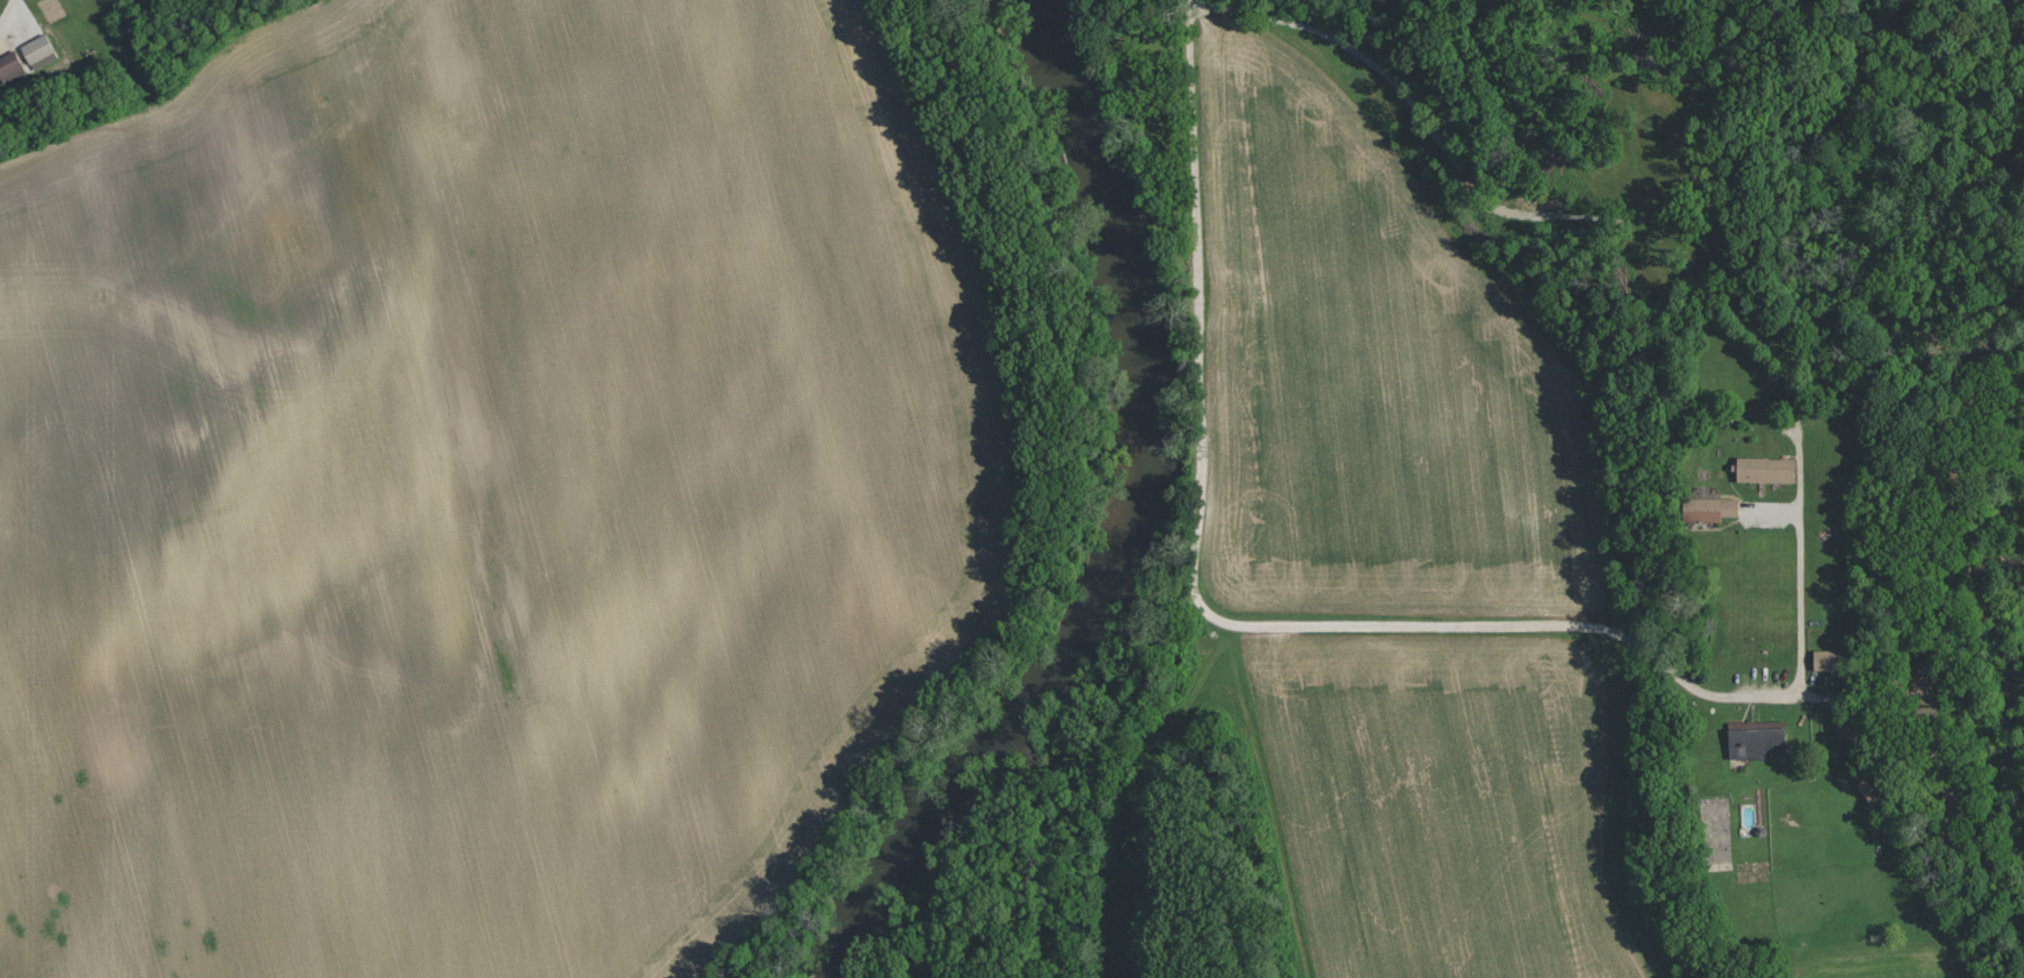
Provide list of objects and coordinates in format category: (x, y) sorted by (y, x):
road: (5, 11)
building: (36, 48)
building: (9, 66)
road: (1201, 327)
building: (1763, 470)
building: (1708, 509)
river: (1139, 514)
road: (1801, 564)
road: (1552, 627)
building: (1827, 660)
building: (1758, 740)
building: (1867, 790)

